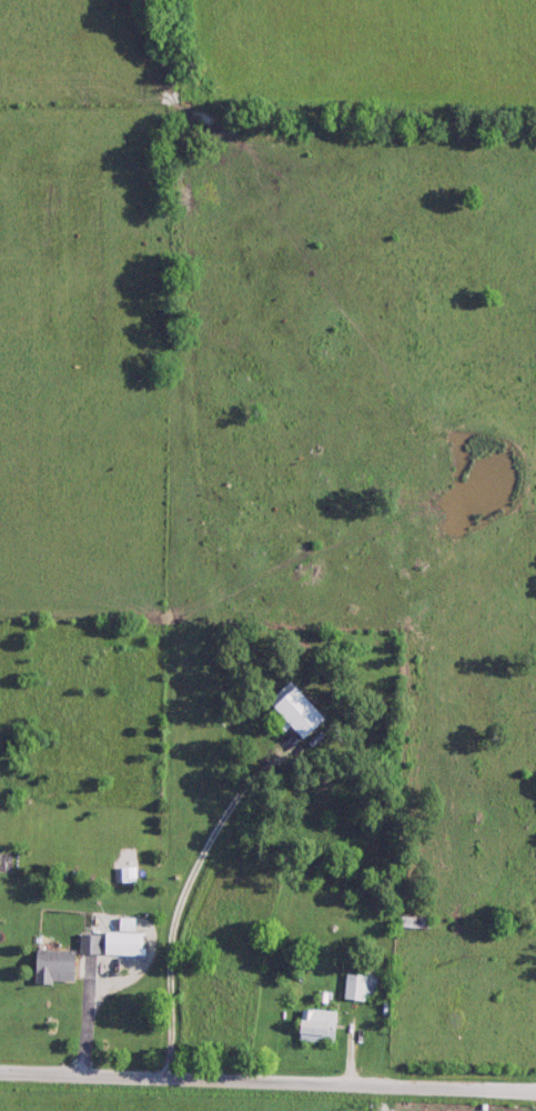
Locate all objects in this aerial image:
building: (292, 712)
road: (185, 904)
building: (383, 905)
building: (121, 944)
building: (87, 945)
building: (51, 968)
building: (357, 985)
building: (314, 1027)
road: (267, 1085)

